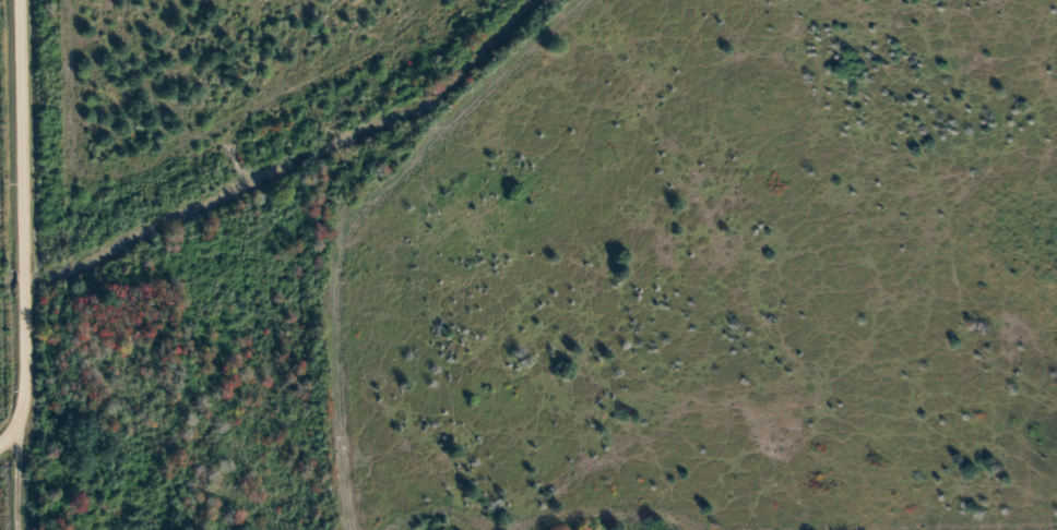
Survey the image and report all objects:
road: (25, 222)

